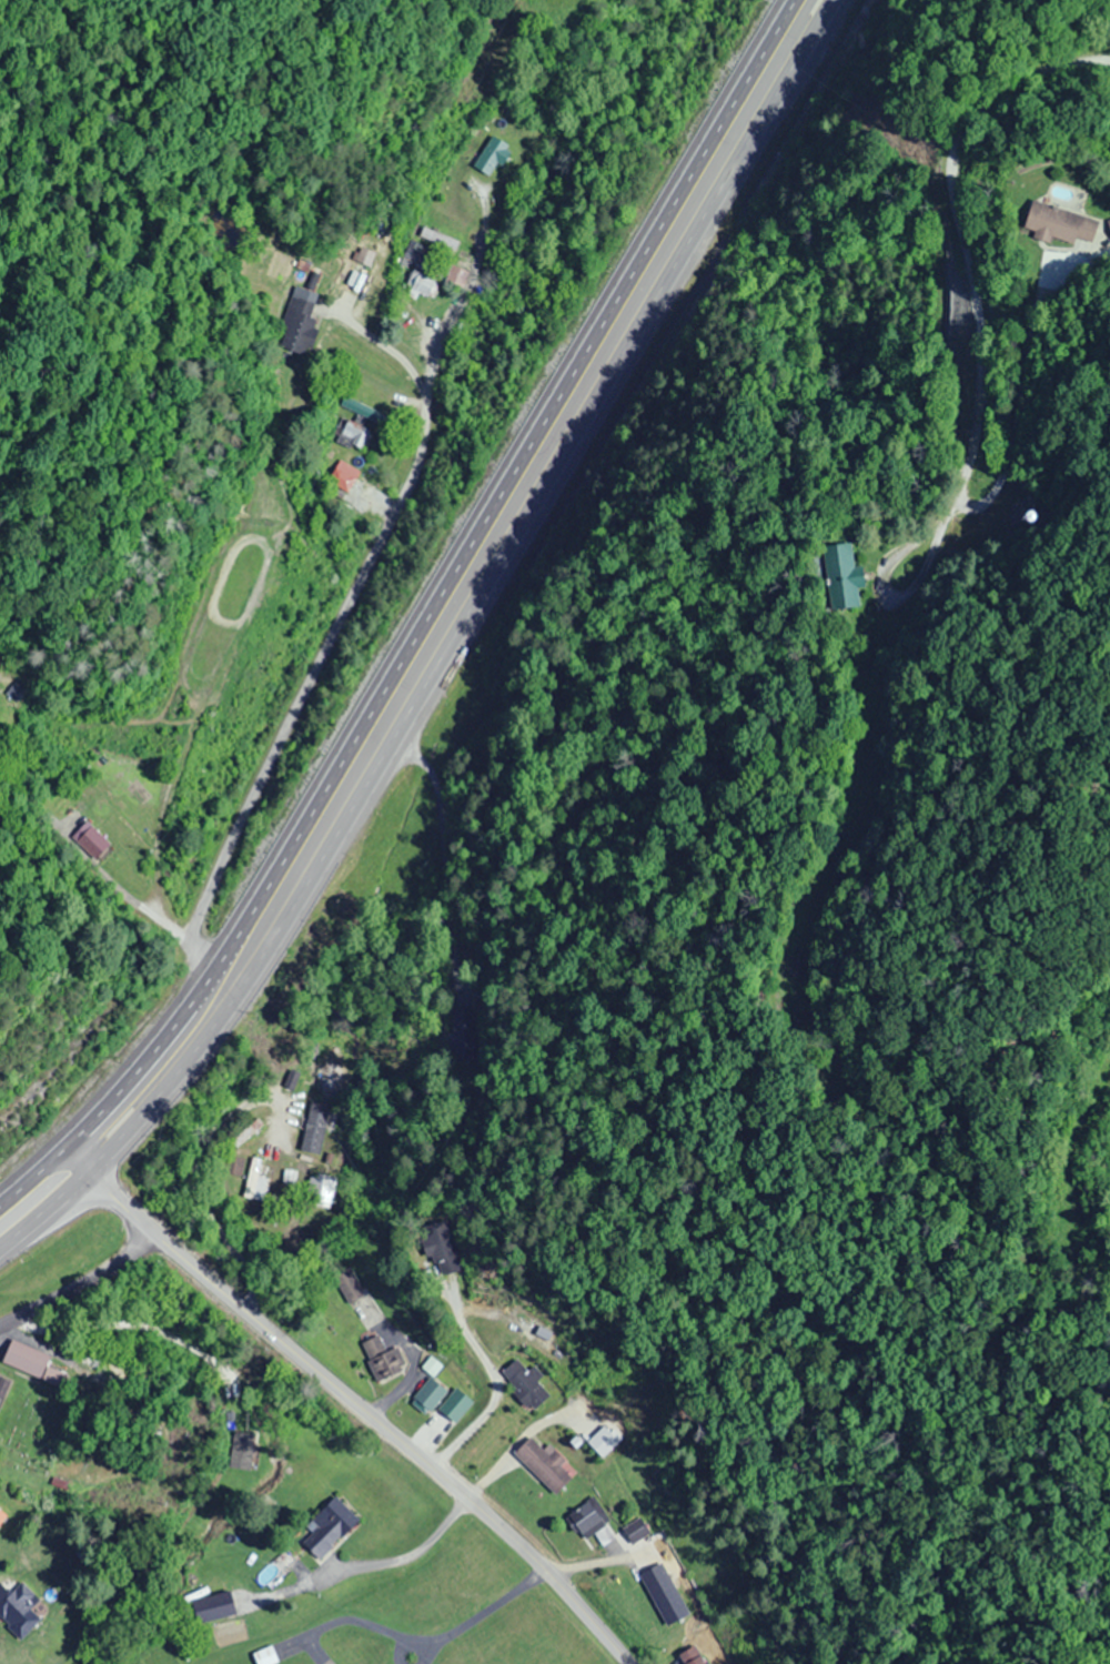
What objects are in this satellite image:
building: (490, 157)
building: (1057, 225)
road: (960, 235)
building: (437, 239)
building: (414, 253)
building: (420, 286)
building: (297, 324)
building: (361, 410)
building: (353, 435)
building: (341, 475)
building: (836, 574)
road: (417, 616)
road: (447, 648)
road: (307, 682)
building: (90, 839)
building: (463, 1036)
building: (314, 1127)
building: (246, 1132)
building: (232, 1166)
building: (290, 1177)
building: (258, 1188)
building: (321, 1191)
building: (436, 1254)
road: (75, 1282)
building: (349, 1284)
building: (382, 1358)
building: (29, 1361)
building: (525, 1383)
building: (2, 1386)
building: (428, 1389)
road: (342, 1400)
building: (456, 1406)
park: (32, 1426)
building: (238, 1434)
building: (601, 1441)
building: (542, 1464)
building: (0, 1515)
building: (587, 1519)
building: (326, 1526)
building: (663, 1594)
building: (210, 1607)
building: (17, 1608)
building: (263, 1656)
building: (692, 1656)

